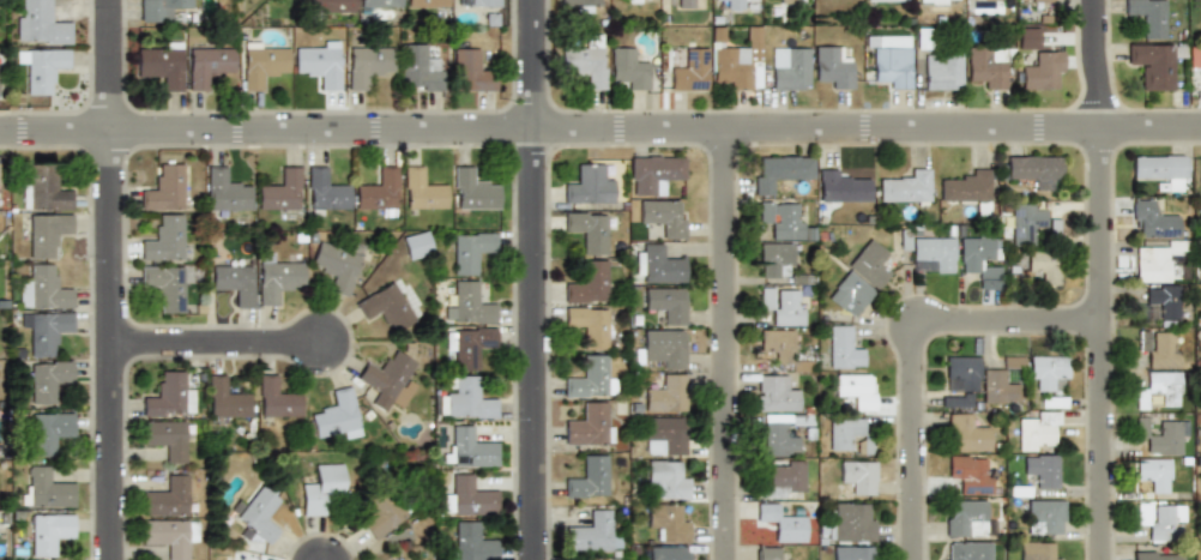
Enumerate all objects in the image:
building: (886, 0)
building: (1043, 0)
building: (632, 1)
building: (931, 2)
building: (379, 4)
building: (427, 4)
building: (477, 4)
building: (686, 4)
building: (331, 5)
building: (734, 5)
building: (579, 6)
building: (159, 8)
building: (1148, 17)
building: (40, 23)
building: (1195, 59)
building: (585, 60)
building: (891, 60)
building: (737, 61)
building: (1038, 61)
building: (318, 62)
building: (162, 65)
building: (207, 65)
building: (262, 65)
building: (367, 65)
building: (1153, 65)
building: (43, 66)
building: (986, 66)
building: (790, 67)
building: (832, 67)
building: (418, 68)
building: (628, 68)
building: (689, 70)
building: (942, 70)
building: (470, 71)
road: (600, 130)
building: (1033, 169)
building: (1160, 170)
building: (779, 171)
building: (1199, 171)
building: (653, 174)
building: (587, 185)
building: (165, 187)
building: (840, 187)
building: (906, 187)
building: (46, 188)
building: (280, 189)
building: (473, 189)
building: (970, 189)
building: (227, 191)
building: (423, 191)
building: (327, 192)
building: (379, 193)
building: (662, 217)
building: (1151, 219)
building: (783, 221)
building: (1026, 223)
building: (589, 231)
building: (47, 233)
building: (165, 240)
building: (416, 245)
building: (467, 251)
building: (933, 254)
building: (974, 255)
building: (773, 258)
building: (869, 263)
building: (1151, 264)
building: (657, 265)
building: (1043, 265)
building: (336, 266)
building: (276, 278)
road: (110, 279)
road: (533, 279)
road: (1102, 279)
building: (233, 281)
building: (589, 282)
building: (168, 284)
building: (43, 288)
building: (849, 294)
building: (1163, 302)
building: (469, 303)
building: (665, 305)
building: (386, 306)
building: (783, 307)
building: (590, 325)
building: (47, 331)
road: (217, 342)
road: (725, 344)
building: (777, 344)
building: (467, 345)
building: (663, 347)
building: (843, 348)
road: (915, 348)
building: (1158, 348)
building: (589, 377)
building: (1049, 378)
building: (387, 379)
building: (48, 380)
building: (960, 380)
building: (1001, 381)
building: (1159, 389)
building: (855, 390)
building: (665, 393)
building: (774, 393)
building: (169, 395)
building: (227, 399)
building: (461, 399)
building: (277, 401)
building: (336, 415)
building: (590, 424)
building: (49, 432)
building: (847, 432)
building: (1037, 432)
building: (966, 433)
building: (778, 434)
building: (664, 435)
building: (165, 438)
building: (1166, 438)
building: (467, 447)
building: (1042, 469)
building: (970, 472)
building: (1153, 474)
building: (857, 476)
building: (587, 477)
building: (668, 478)
building: (783, 478)
building: (44, 488)
building: (319, 488)
building: (165, 498)
building: (467, 498)
building: (259, 513)
building: (380, 513)
building: (1043, 516)
building: (967, 518)
building: (1159, 519)
building: (668, 522)
building: (851, 523)
building: (781, 524)
building: (49, 532)
building: (591, 532)
building: (165, 536)
building: (470, 541)
building: (966, 550)
building: (1039, 550)
building: (669, 553)
building: (767, 553)
building: (852, 553)
building: (1155, 555)
building: (1200, 555)

